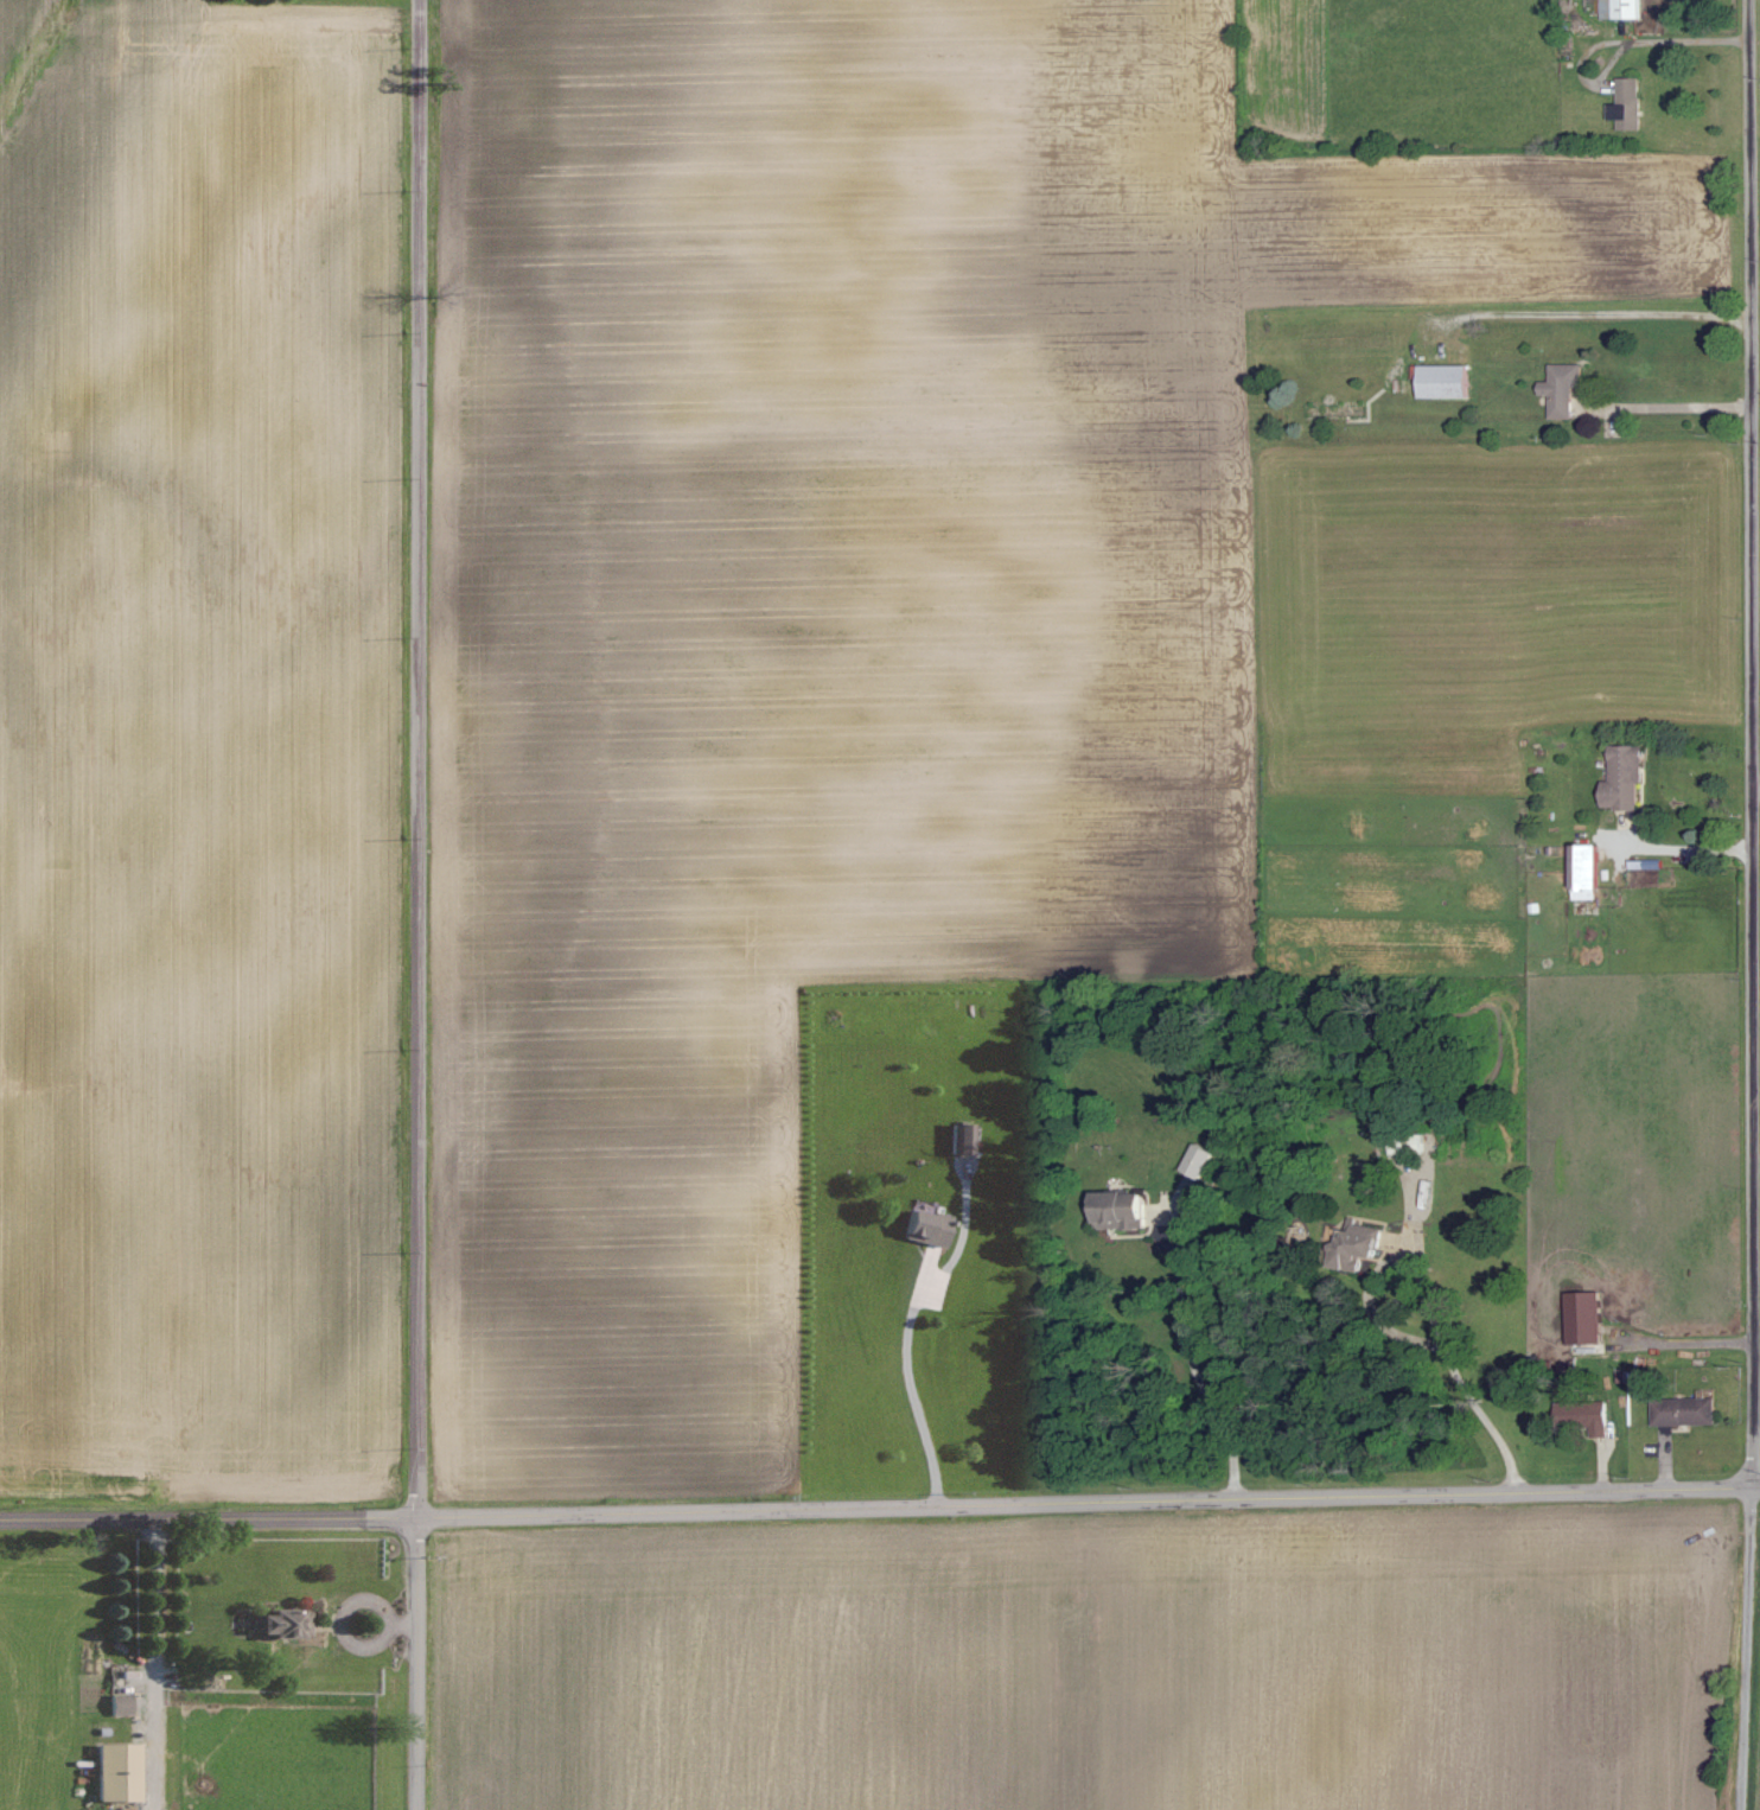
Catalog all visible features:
building: (1618, 8)
building: (1625, 104)
road: (1600, 314)
building: (1440, 380)
building: (1558, 388)
building: (1620, 778)
road: (1679, 849)
building: (1581, 871)
road: (417, 905)
road: (1754, 905)
building: (957, 1139)
building: (1193, 1161)
building: (1122, 1211)
building: (919, 1226)
building: (1351, 1245)
road: (1430, 1302)
building: (1581, 1318)
road: (1198, 1374)
road: (910, 1385)
building: (1681, 1411)
building: (1582, 1415)
road: (880, 1508)
road: (153, 1656)
crop: (1091, 1659)
crop: (1754, 1695)
building: (116, 1704)
building: (110, 1772)

